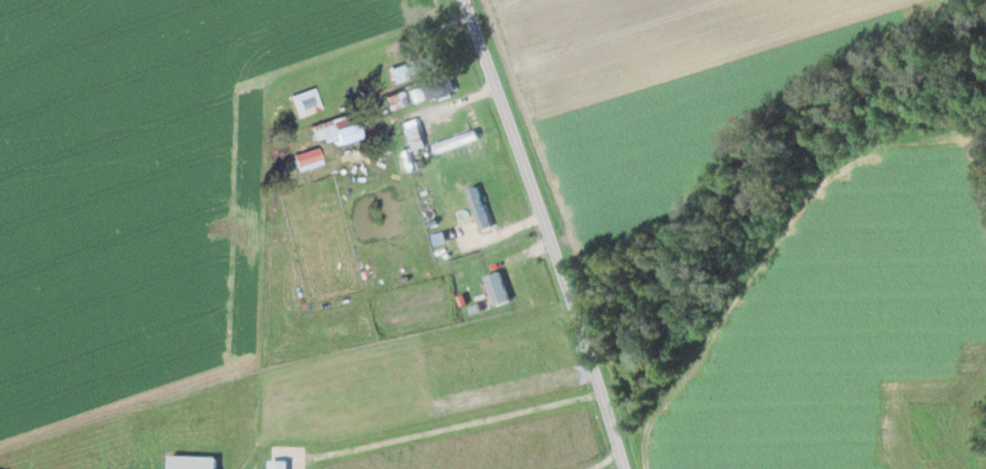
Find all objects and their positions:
building: (403, 71)
building: (439, 89)
building: (418, 96)
building: (396, 101)
building: (306, 103)
building: (336, 130)
building: (413, 135)
building: (457, 142)
building: (308, 163)
road: (548, 233)
building: (498, 290)
building: (128, 459)
building: (192, 463)
building: (278, 465)

